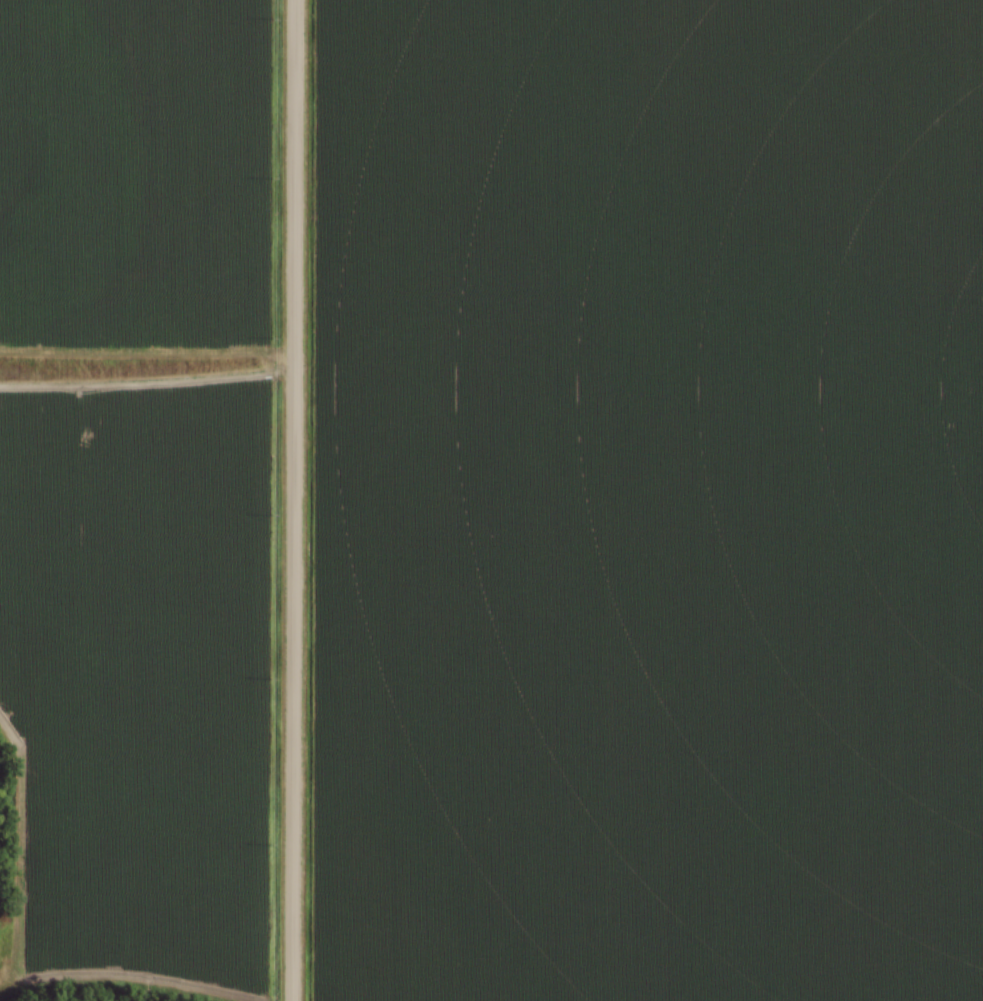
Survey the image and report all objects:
crop: (133, 174)
road: (294, 500)
crop: (647, 500)
crop: (137, 672)

